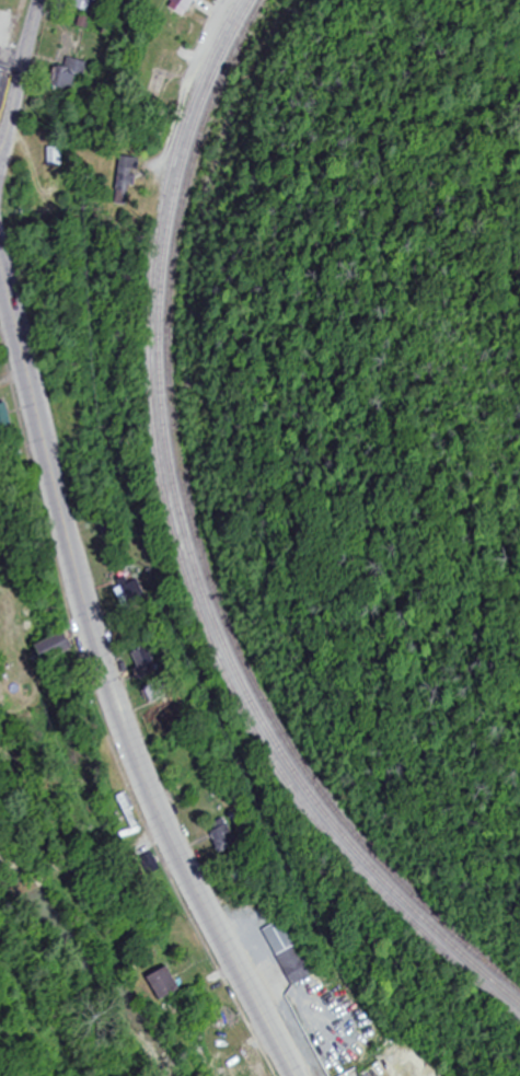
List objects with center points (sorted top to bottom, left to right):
road: (20, 88)
road: (1, 266)
building: (0, 339)
railway: (187, 553)
road: (109, 687)

